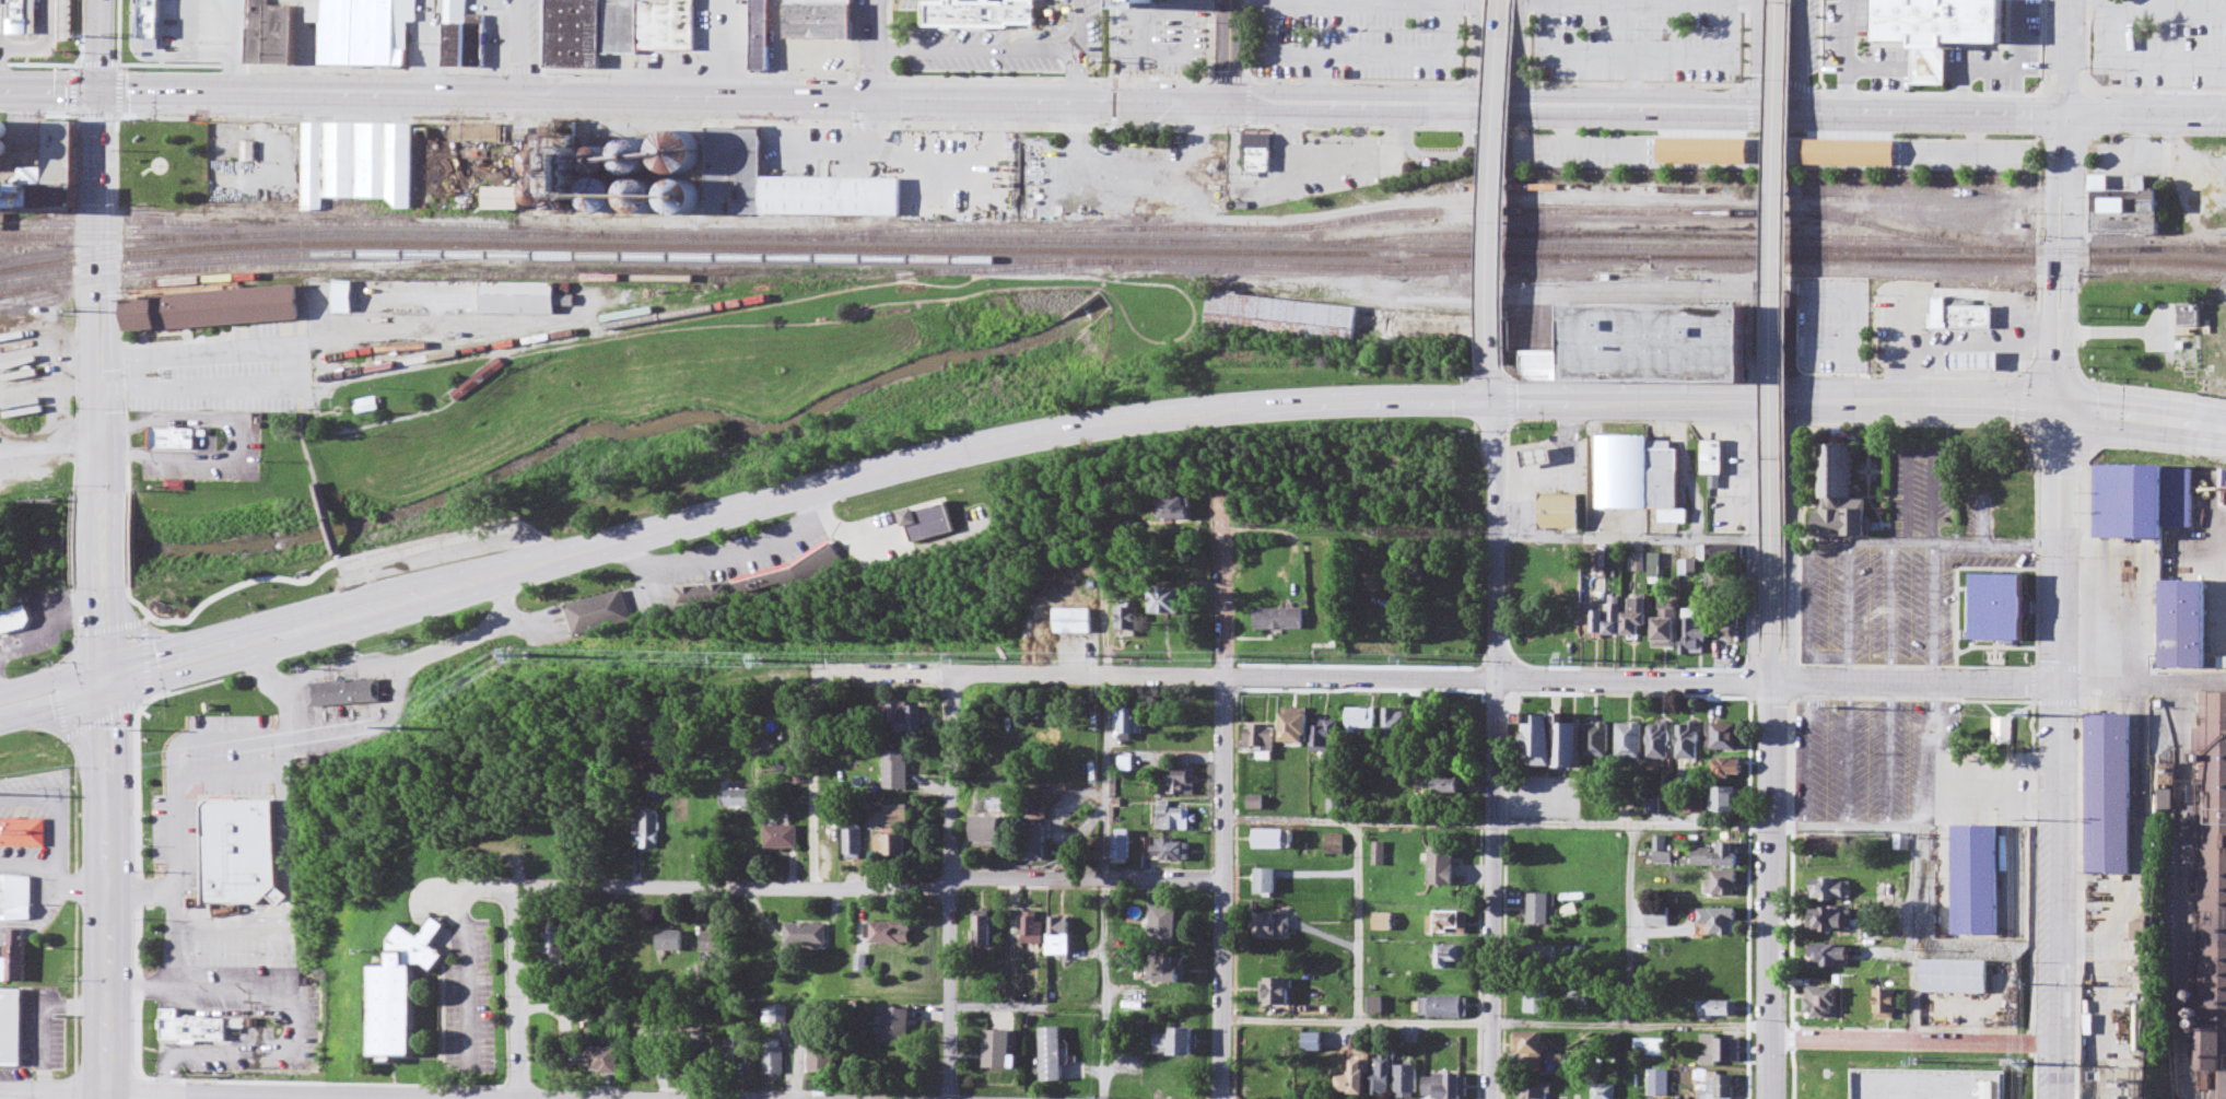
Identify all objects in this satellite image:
building: (980, 12)
building: (1938, 26)
road: (882, 42)
road: (1007, 43)
road: (99, 46)
road: (528, 46)
road: (703, 47)
road: (871, 49)
road: (1231, 50)
road: (1478, 51)
road: (1520, 51)
road: (1757, 52)
road: (1803, 52)
road: (1077, 54)
road: (2063, 54)
road: (1077, 81)
road: (49, 91)
traffic signals: (99, 92)
road: (1081, 100)
road: (2144, 110)
building: (785, 186)
road: (1499, 186)
building: (505, 190)
building: (2130, 213)
railway: (1405, 215)
railway: (118, 219)
railway: (302, 226)
railway: (301, 235)
railway: (1633, 236)
railway: (28, 242)
railway: (1415, 245)
railway: (118, 247)
railway: (2210, 249)
railway: (1112, 252)
road: (2061, 252)
railway: (1832, 255)
railway: (806, 259)
railway: (250, 268)
railway: (707, 279)
road: (96, 292)
building: (517, 300)
building: (213, 309)
building: (1663, 315)
building: (1961, 315)
building: (2190, 315)
building: (1281, 321)
railway: (572, 324)
road: (1773, 326)
railway: (595, 329)
building: (1976, 362)
road: (297, 370)
parking lot: (223, 372)
building: (478, 378)
road: (1825, 390)
traffic signals: (1493, 394)
traffic signals: (2058, 396)
road: (1212, 410)
road: (2190, 418)
railway: (354, 430)
building: (1540, 437)
gas station: (1540, 437)
building: (173, 440)
road: (301, 440)
road: (48, 444)
building: (1712, 445)
building: (1622, 458)
building: (1995, 467)
building: (1562, 495)
building: (1842, 495)
building: (2142, 504)
building: (2013, 511)
road: (328, 524)
road: (1496, 526)
road: (1754, 538)
road: (1793, 539)
road: (101, 541)
parking lot: (433, 552)
road: (425, 560)
road: (519, 568)
road: (343, 570)
building: (1999, 607)
building: (2184, 621)
road: (103, 638)
road: (263, 670)
road: (1363, 678)
road: (1914, 683)
traffic signals: (105, 685)
road: (52, 698)
road: (818, 712)
building: (2003, 733)
road: (2057, 747)
parking lot: (1864, 752)
building: (1731, 769)
building: (2110, 793)
building: (1729, 802)
road: (1223, 812)
road: (137, 837)
building: (234, 839)
building: (1833, 846)
building: (1977, 870)
road: (1768, 876)
building: (1723, 885)
road: (952, 887)
road: (103, 889)
road: (828, 889)
road: (1497, 889)
building: (1831, 891)
building: (2213, 892)
road: (75, 896)
building: (1831, 922)
building: (1721, 923)
building: (2143, 938)
building: (1835, 958)
building: (1956, 973)
building: (399, 984)
road: (516, 996)
building: (1825, 1004)
building: (1864, 1004)
building: (1890, 1005)
building: (1719, 1010)
building: (10, 1022)
road: (1911, 1041)
building: (1721, 1052)
building: (1881, 1076)
power substation: (2113, 1083)
power substation: (1926, 1084)
building: (1717, 1086)
road: (51, 1092)
road: (104, 1097)
road: (105, 1097)
road: (206, 1097)
road: (317, 1097)

